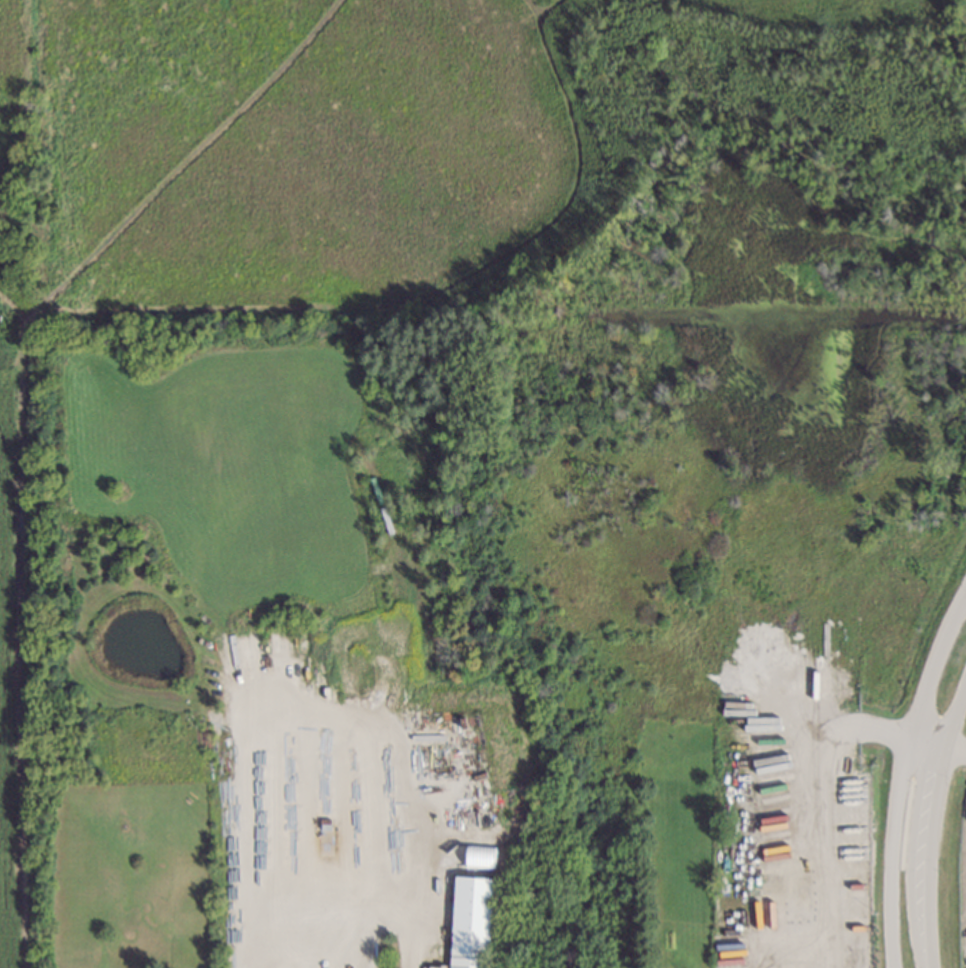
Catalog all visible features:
road: (940, 750)
road: (907, 780)
road: (819, 809)
road: (934, 828)
building: (480, 857)
road: (323, 915)
building: (467, 925)
building: (436, 967)

